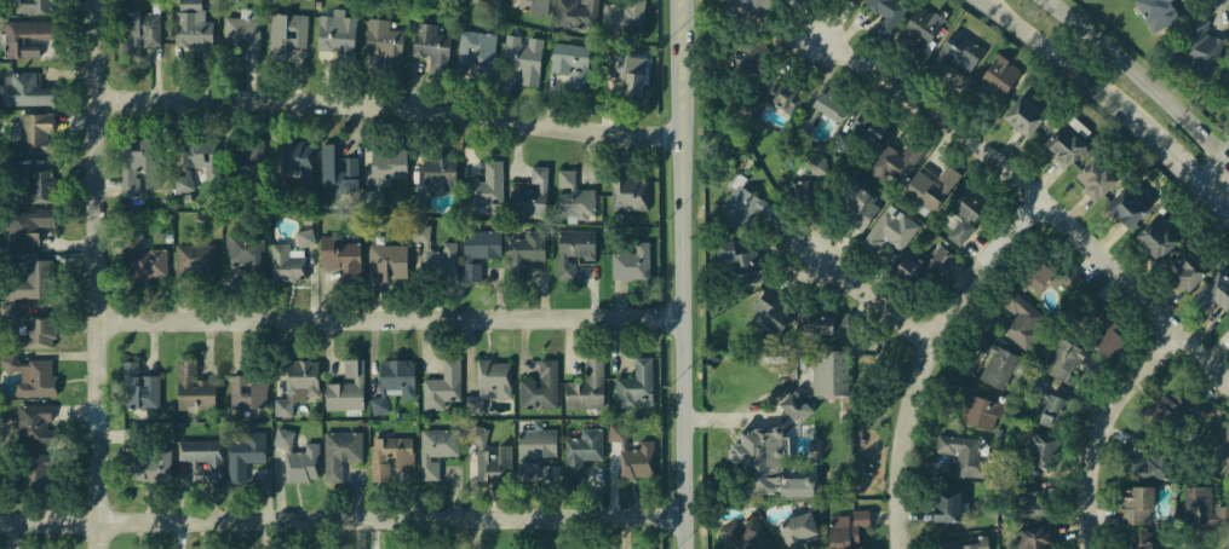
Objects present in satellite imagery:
building: (415, 0)
building: (493, 0)
building: (854, 1)
building: (189, 4)
building: (29, 5)
building: (534, 6)
building: (754, 7)
building: (1154, 7)
building: (576, 12)
building: (622, 16)
building: (883, 17)
building: (22, 33)
building: (139, 33)
building: (194, 33)
building: (335, 33)
building: (286, 34)
building: (920, 34)
building: (242, 36)
building: (383, 41)
building: (1195, 42)
building: (430, 45)
building: (477, 50)
building: (954, 54)
building: (522, 57)
building: (748, 57)
road: (1053, 57)
building: (569, 63)
building: (627, 69)
road: (1138, 77)
building: (993, 80)
building: (25, 89)
building: (781, 96)
building: (829, 103)
building: (750, 106)
road: (395, 108)
building: (1022, 116)
building: (800, 127)
building: (867, 128)
building: (29, 133)
building: (842, 140)
building: (1066, 143)
building: (232, 157)
building: (895, 161)
road: (1179, 161)
building: (293, 162)
building: (193, 163)
building: (134, 168)
building: (335, 171)
building: (384, 171)
building: (1097, 175)
road: (1219, 177)
building: (432, 179)
building: (809, 183)
building: (483, 187)
building: (29, 189)
building: (929, 189)
traffic signals: (1210, 189)
road: (1038, 191)
building: (529, 193)
building: (628, 193)
building: (574, 196)
building: (855, 202)
building: (1127, 206)
building: (748, 209)
building: (965, 210)
building: (27, 227)
building: (889, 232)
building: (1156, 236)
building: (304, 238)
building: (479, 244)
building: (573, 250)
building: (245, 252)
building: (435, 252)
building: (523, 253)
building: (340, 258)
building: (940, 258)
building: (142, 259)
building: (195, 260)
building: (386, 261)
building: (631, 262)
building: (741, 262)
building: (286, 264)
building: (907, 268)
building: (1185, 270)
building: (471, 271)
road: (104, 273)
road: (690, 274)
building: (1052, 278)
building: (22, 283)
building: (1210, 293)
road: (878, 299)
building: (773, 306)
road: (398, 318)
building: (815, 319)
building: (1021, 320)
building: (1104, 325)
building: (1227, 326)
building: (35, 330)
road: (932, 357)
building: (995, 359)
building: (1067, 359)
building: (826, 372)
building: (35, 376)
building: (397, 376)
building: (297, 383)
building: (588, 383)
building: (489, 386)
building: (540, 386)
building: (136, 387)
building: (442, 387)
building: (191, 388)
building: (346, 388)
building: (636, 388)
building: (247, 392)
park: (875, 400)
building: (1045, 400)
building: (375, 403)
building: (794, 406)
building: (975, 409)
building: (1176, 409)
building: (33, 423)
road: (1108, 427)
building: (998, 433)
building: (132, 437)
building: (1213, 444)
building: (436, 450)
building: (533, 450)
building: (579, 450)
building: (1038, 450)
building: (339, 452)
building: (502, 453)
building: (243, 455)
building: (631, 455)
building: (961, 455)
building: (390, 456)
building: (756, 456)
building: (297, 457)
building: (201, 458)
building: (151, 466)
building: (1147, 466)
building: (31, 469)
building: (1029, 501)
building: (1198, 503)
building: (944, 505)
building: (1136, 505)
road: (341, 518)
building: (794, 525)
building: (846, 533)
building: (746, 534)
building: (1033, 538)
building: (1141, 541)
building: (965, 543)
building: (1224, 544)
building: (1175, 548)

